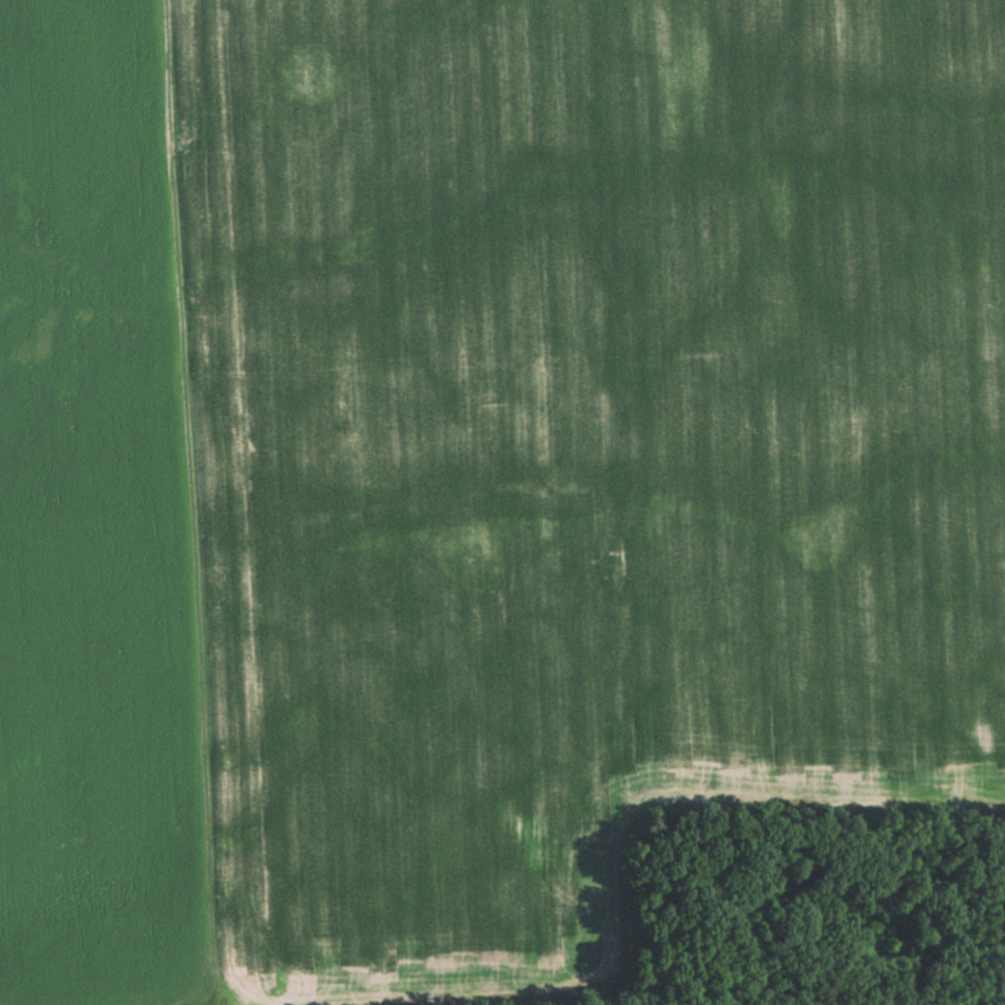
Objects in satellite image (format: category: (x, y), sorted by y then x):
road: (111, 516)

